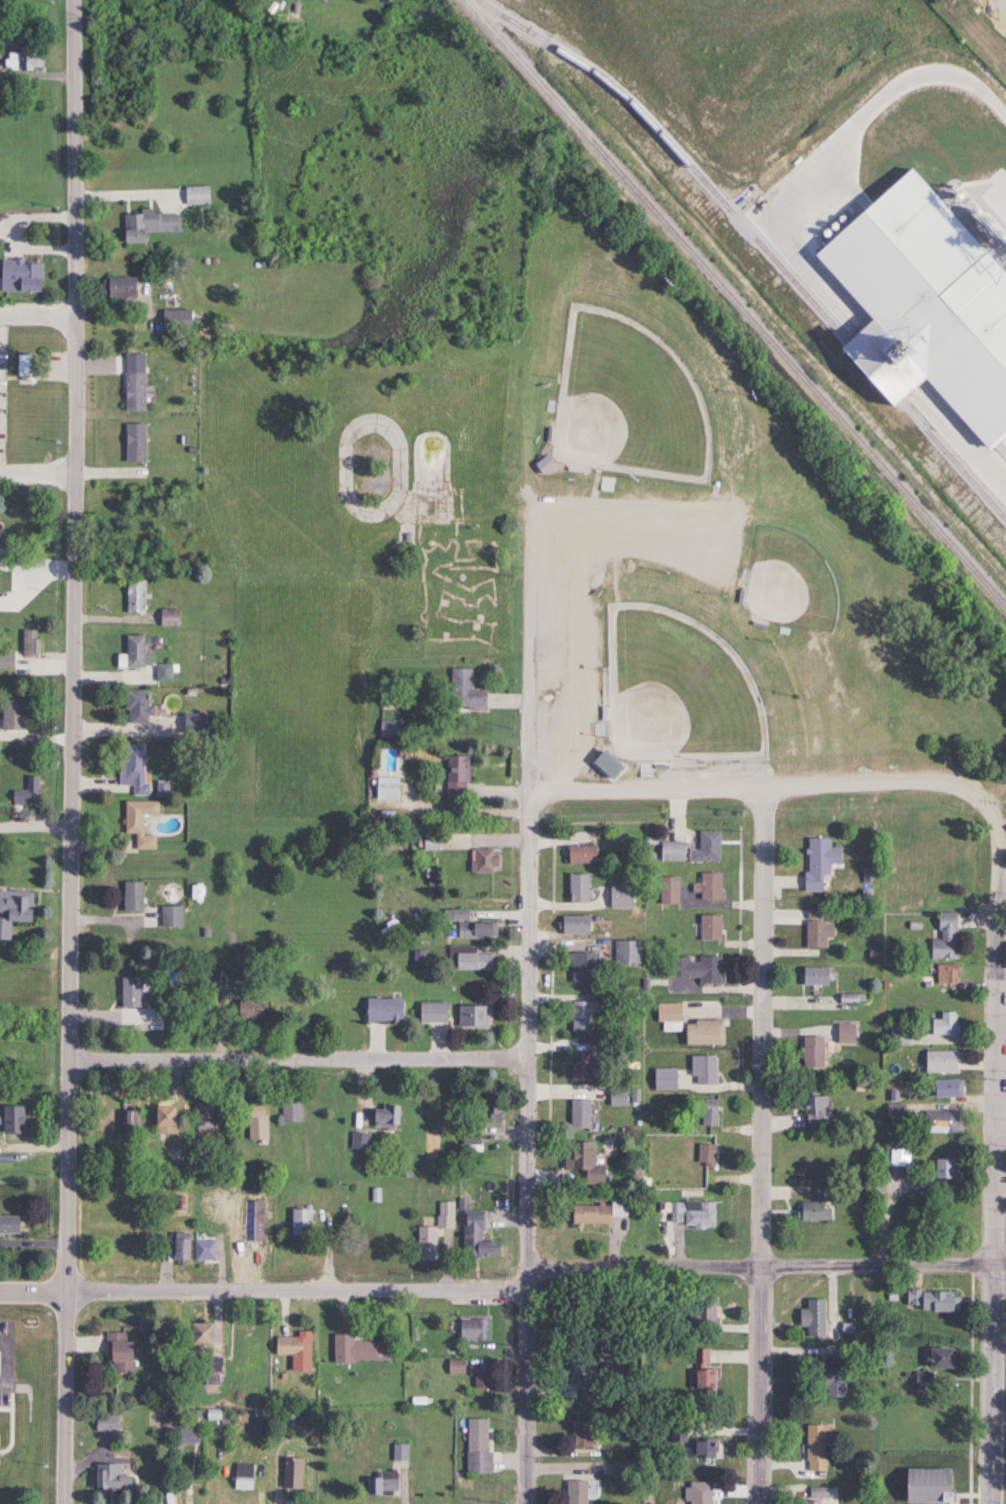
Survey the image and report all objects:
building: (6, 32)
building: (26, 60)
road: (878, 111)
building: (195, 195)
road: (130, 206)
building: (144, 225)
building: (19, 275)
building: (116, 288)
railway: (735, 303)
road: (36, 312)
building: (175, 319)
building: (132, 382)
park: (627, 400)
building: (131, 443)
building: (542, 465)
road: (37, 473)
park: (726, 550)
park: (787, 582)
building: (134, 596)
building: (168, 618)
building: (28, 643)
building: (135, 652)
building: (162, 672)
park: (675, 690)
building: (463, 691)
building: (136, 706)
building: (13, 714)
building: (388, 728)
road: (72, 752)
building: (605, 765)
building: (132, 768)
building: (455, 776)
building: (385, 787)
building: (26, 792)
road: (749, 799)
building: (138, 823)
road: (36, 830)
building: (429, 841)
building: (705, 847)
building: (670, 851)
building: (579, 854)
building: (481, 860)
building: (817, 862)
building: (708, 887)
building: (575, 888)
building: (666, 891)
building: (131, 897)
building: (615, 897)
building: (13, 910)
building: (170, 916)
building: (468, 925)
building: (572, 925)
building: (708, 928)
building: (814, 928)
building: (945, 937)
building: (625, 952)
building: (468, 959)
building: (582, 962)
building: (692, 969)
building: (946, 975)
building: (813, 976)
building: (128, 992)
building: (248, 1010)
building: (382, 1010)
building: (430, 1012)
building: (666, 1013)
road: (528, 1015)
building: (472, 1016)
building: (580, 1016)
building: (943, 1025)
building: (701, 1032)
building: (843, 1033)
building: (810, 1052)
building: (843, 1059)
building: (940, 1061)
road: (299, 1063)
building: (578, 1065)
building: (703, 1069)
building: (662, 1078)
building: (945, 1088)
building: (602, 1093)
building: (290, 1112)
building: (708, 1112)
building: (815, 1112)
building: (577, 1113)
building: (202, 1116)
building: (382, 1117)
building: (477, 1118)
building: (11, 1120)
building: (160, 1120)
building: (254, 1121)
building: (939, 1121)
road: (996, 1140)
building: (357, 1141)
road: (762, 1151)
building: (704, 1154)
building: (587, 1163)
building: (939, 1171)
building: (817, 1207)
building: (605, 1214)
building: (689, 1214)
building: (303, 1224)
building: (12, 1226)
building: (437, 1229)
building: (479, 1238)
building: (194, 1249)
road: (764, 1273)
road: (264, 1290)
building: (939, 1302)
building: (708, 1306)
building: (816, 1317)
building: (474, 1330)
building: (208, 1331)
building: (298, 1349)
building: (363, 1349)
building: (123, 1352)
building: (948, 1357)
building: (579, 1363)
building: (456, 1367)
road: (7, 1368)
building: (481, 1377)
building: (707, 1377)
building: (837, 1379)
building: (924, 1381)
building: (220, 1414)
building: (110, 1423)
building: (582, 1435)
building: (191, 1436)
building: (678, 1438)
building: (478, 1446)
building: (708, 1446)
building: (820, 1446)
building: (622, 1468)
building: (294, 1473)
building: (245, 1476)
building: (116, 1477)
building: (384, 1483)
building: (935, 1485)
building: (577, 1492)
building: (699, 1493)
building: (822, 1496)

